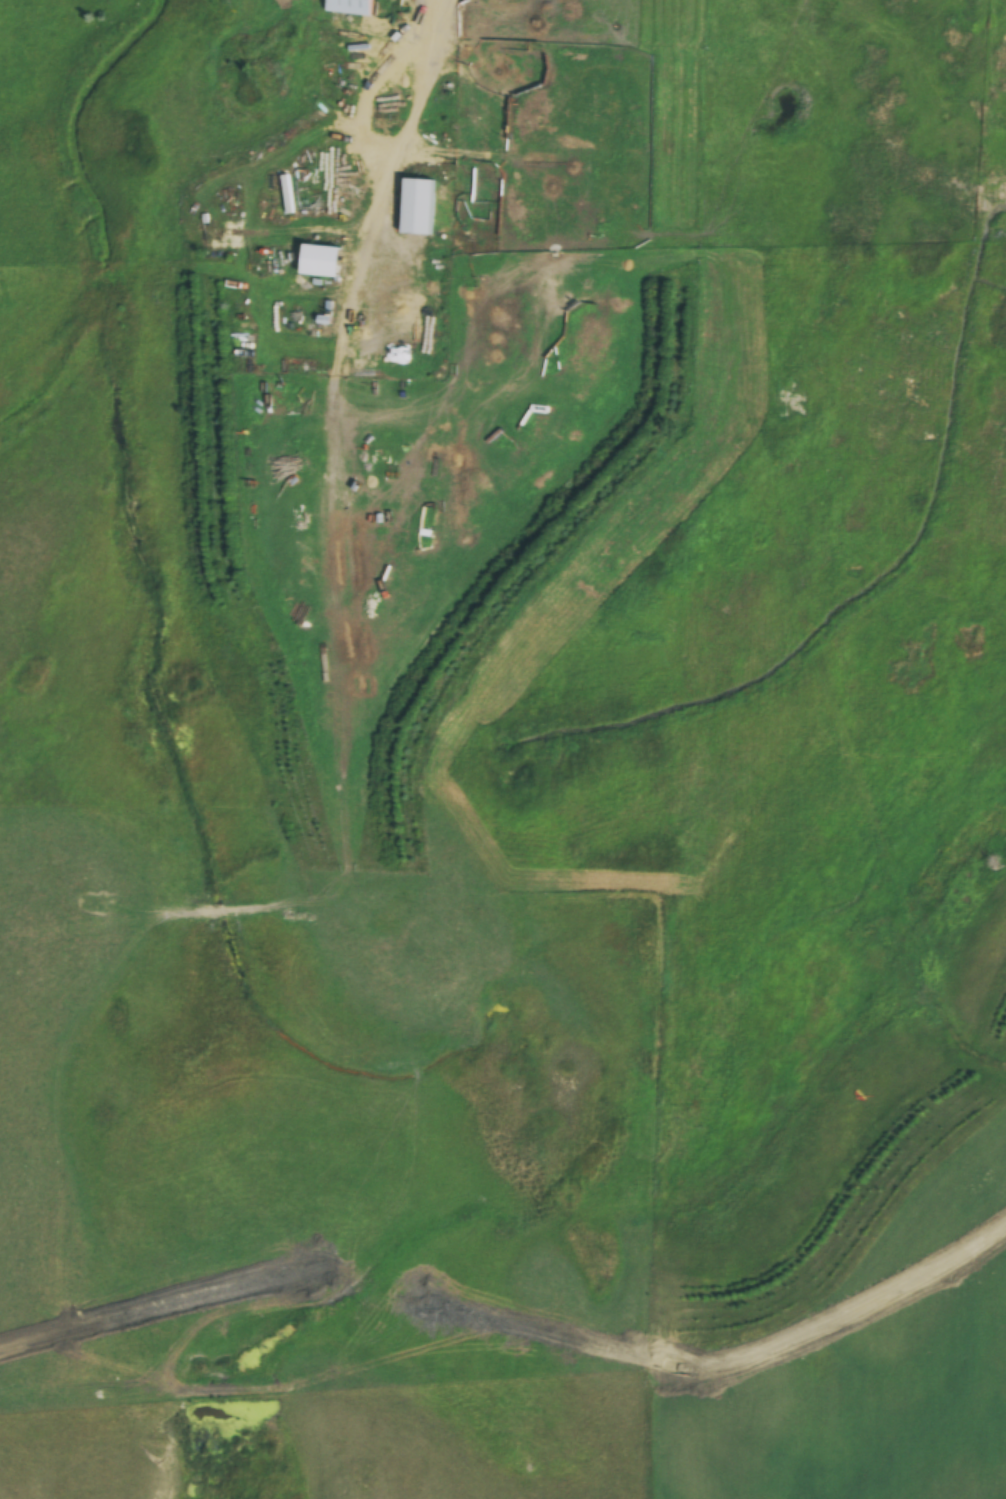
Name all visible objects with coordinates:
building: (350, 7)
building: (420, 14)
building: (418, 207)

